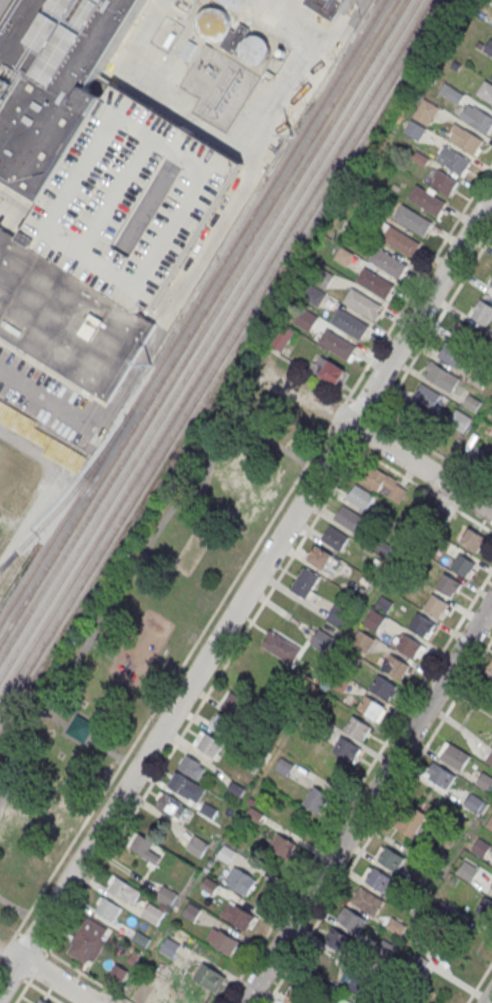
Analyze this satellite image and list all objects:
road: (2, 3)
building: (331, 5)
parking lot: (4, 7)
building: (488, 48)
building: (254, 49)
building: (207, 50)
building: (491, 79)
building: (53, 83)
power substation: (219, 89)
building: (486, 92)
building: (454, 97)
building: (426, 113)
building: (477, 119)
building: (415, 131)
power tower: (292, 136)
building: (465, 140)
building: (454, 161)
building: (444, 183)
building: (132, 200)
parking garage: (132, 200)
building: (427, 201)
road: (15, 206)
building: (413, 221)
building: (401, 242)
building: (343, 257)
building: (388, 263)
building: (323, 279)
road: (417, 283)
building: (375, 284)
building: (491, 284)
building: (314, 296)
building: (362, 304)
railway: (191, 313)
building: (482, 313)
building: (67, 318)
building: (306, 321)
railway: (198, 322)
building: (350, 325)
road: (433, 327)
railway: (204, 331)
building: (463, 335)
building: (282, 339)
railway: (209, 340)
building: (337, 345)
railway: (216, 349)
building: (451, 356)
railway: (221, 358)
power tower: (151, 365)
building: (329, 370)
building: (443, 378)
building: (478, 379)
building: (427, 396)
parking lot: (49, 398)
road: (44, 399)
building: (472, 404)
road: (336, 411)
road: (375, 416)
building: (407, 420)
building: (459, 421)
road: (368, 432)
road: (374, 439)
road: (347, 440)
building: (381, 481)
road: (422, 487)
building: (360, 498)
railway: (63, 503)
building: (439, 518)
building: (352, 521)
building: (334, 538)
building: (474, 539)
building: (320, 558)
road: (133, 567)
building: (464, 568)
building: (305, 583)
building: (448, 586)
road: (245, 593)
building: (384, 604)
building: (437, 607)
building: (338, 616)
building: (374, 621)
building: (422, 626)
park: (140, 629)
building: (321, 642)
building: (363, 642)
building: (408, 647)
building: (281, 649)
building: (396, 668)
building: (490, 673)
road: (172, 679)
building: (338, 680)
building: (383, 688)
road: (202, 698)
road: (101, 700)
building: (235, 704)
building: (371, 708)
road: (56, 720)
building: (222, 727)
building: (80, 728)
road: (83, 728)
building: (357, 728)
road: (77, 734)
building: (209, 745)
road: (105, 749)
building: (346, 749)
building: (456, 757)
building: (489, 761)
building: (285, 767)
building: (192, 768)
building: (441, 777)
building: (485, 783)
road: (357, 785)
building: (187, 788)
building: (236, 790)
building: (316, 799)
road: (367, 802)
building: (474, 804)
building: (170, 806)
building: (209, 811)
road: (378, 820)
building: (409, 820)
building: (489, 824)
building: (141, 845)
building: (197, 847)
building: (282, 847)
building: (481, 848)
building: (227, 855)
building: (391, 860)
building: (468, 871)
building: (378, 880)
building: (242, 883)
building: (210, 887)
building: (491, 887)
building: (122, 890)
building: (167, 897)
building: (367, 902)
road: (12, 907)
building: (485, 908)
building: (107, 910)
building: (192, 913)
building: (443, 913)
building: (153, 915)
building: (237, 916)
building: (352, 921)
building: (396, 926)
road: (18, 933)
building: (88, 940)
road: (31, 941)
building: (337, 941)
building: (225, 943)
road: (5, 947)
building: (170, 949)
road: (0, 957)
road: (0, 965)
road: (37, 966)
road: (10, 972)
road: (45, 974)
road: (86, 974)
building: (117, 974)
building: (210, 979)
road: (479, 982)
road: (23, 990)
road: (40, 990)
building: (295, 998)
road: (489, 999)
building: (40, 1001)

